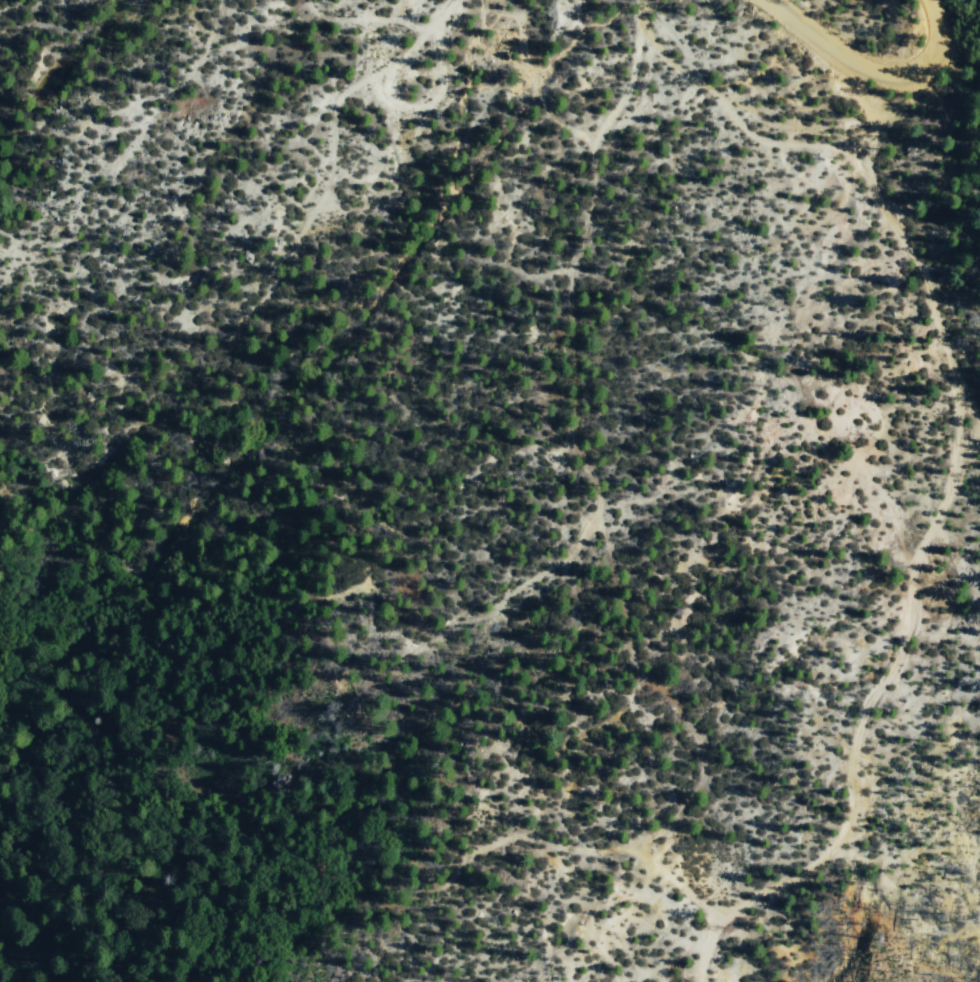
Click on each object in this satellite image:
road: (876, 66)

